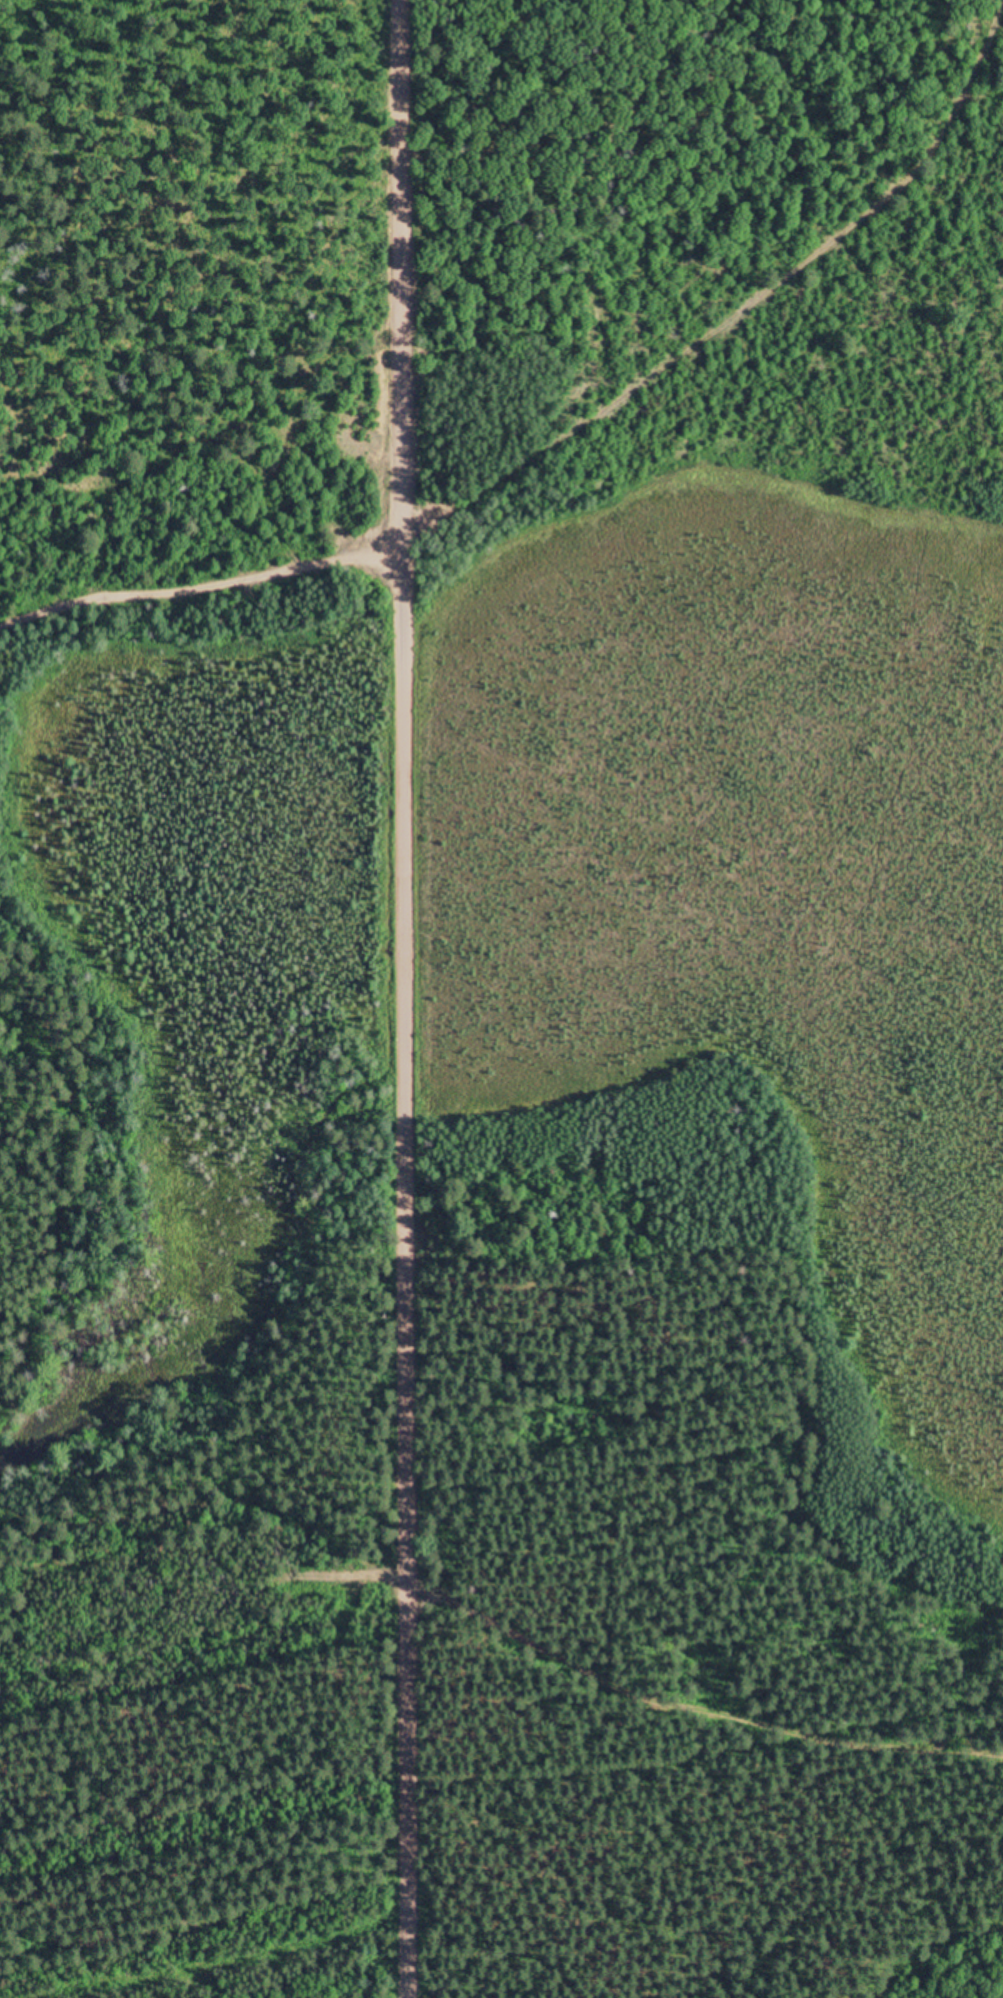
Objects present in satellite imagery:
road: (574, 427)
road: (404, 998)

